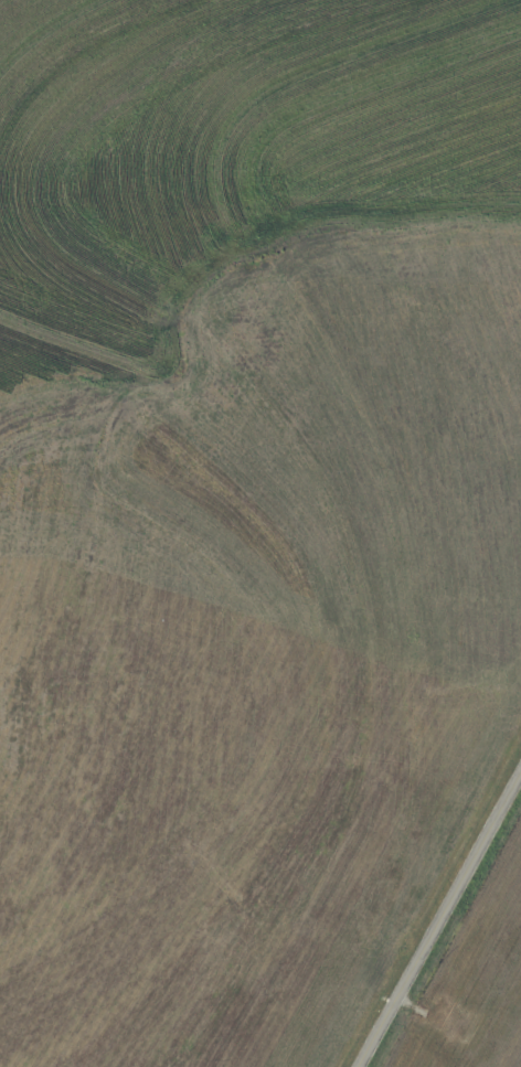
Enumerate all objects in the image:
road: (438, 915)

